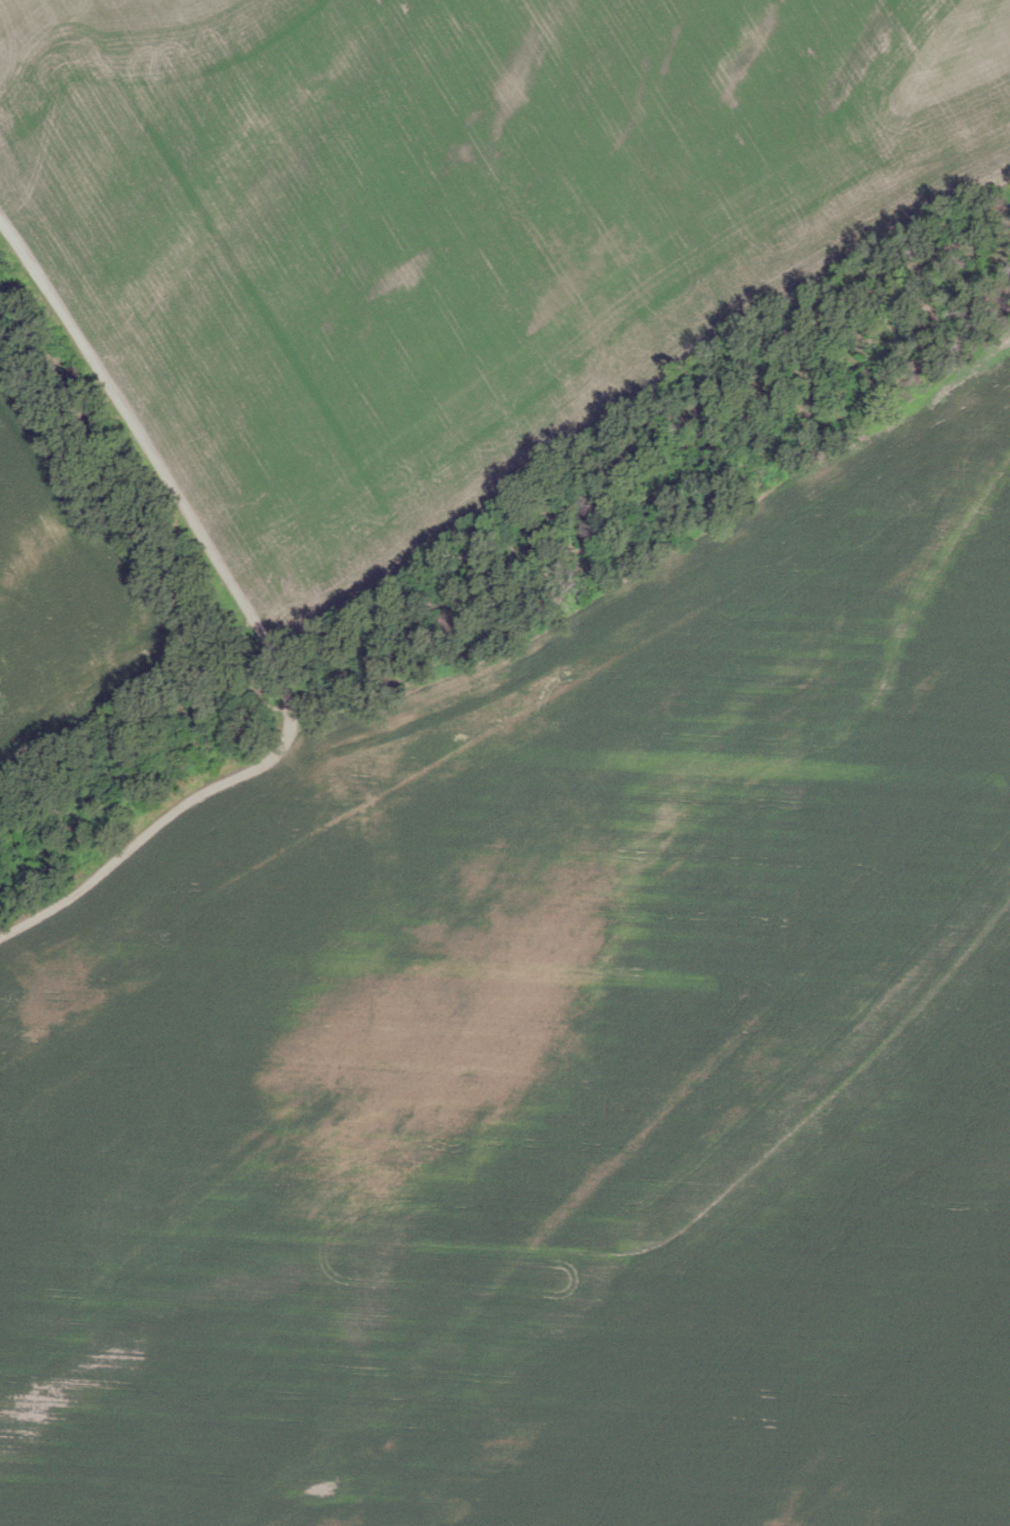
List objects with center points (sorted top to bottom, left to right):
crop: (446, 231)
crop: (68, 586)
road: (255, 621)
crop: (557, 1062)

